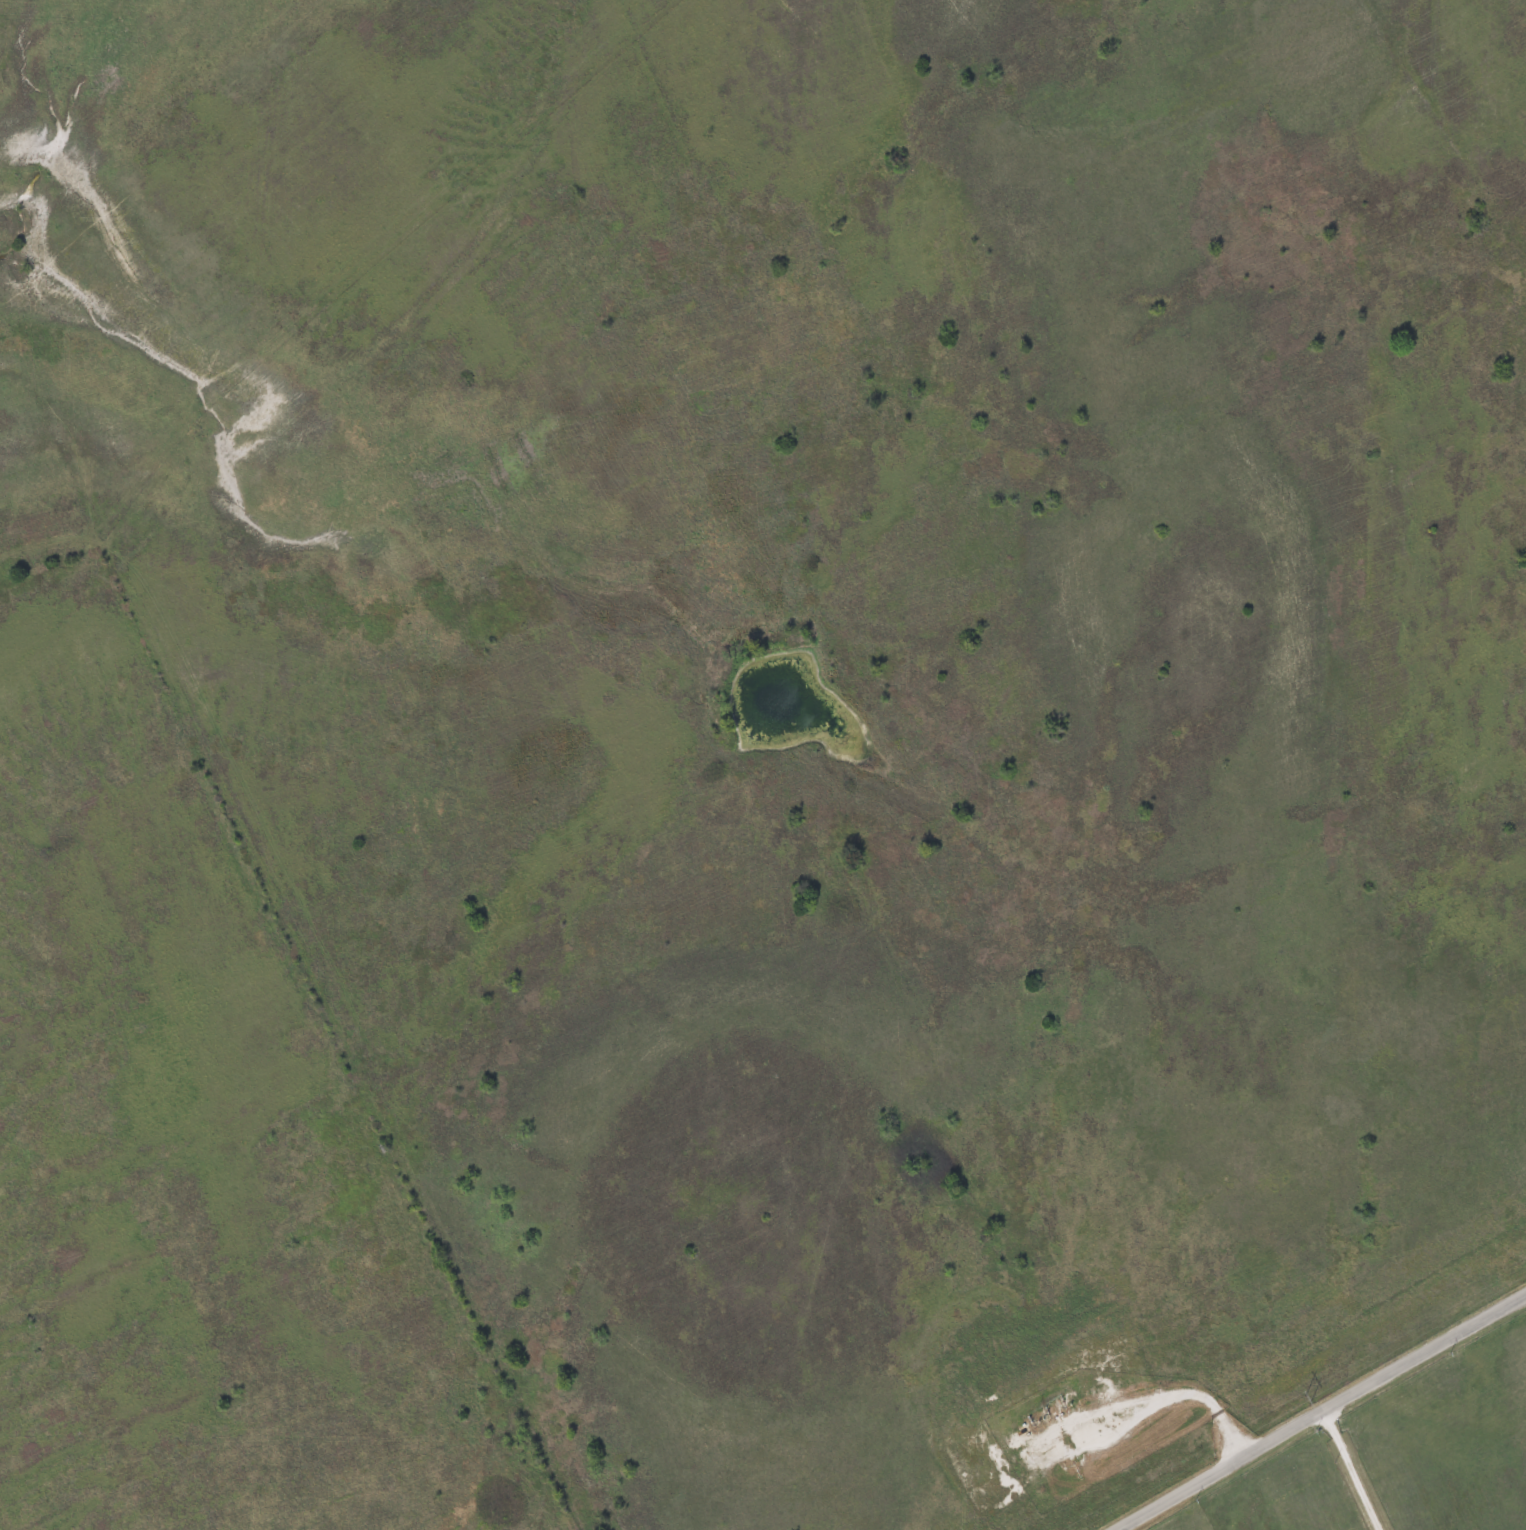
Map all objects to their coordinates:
road: (1310, 1405)
road: (1348, 1466)

